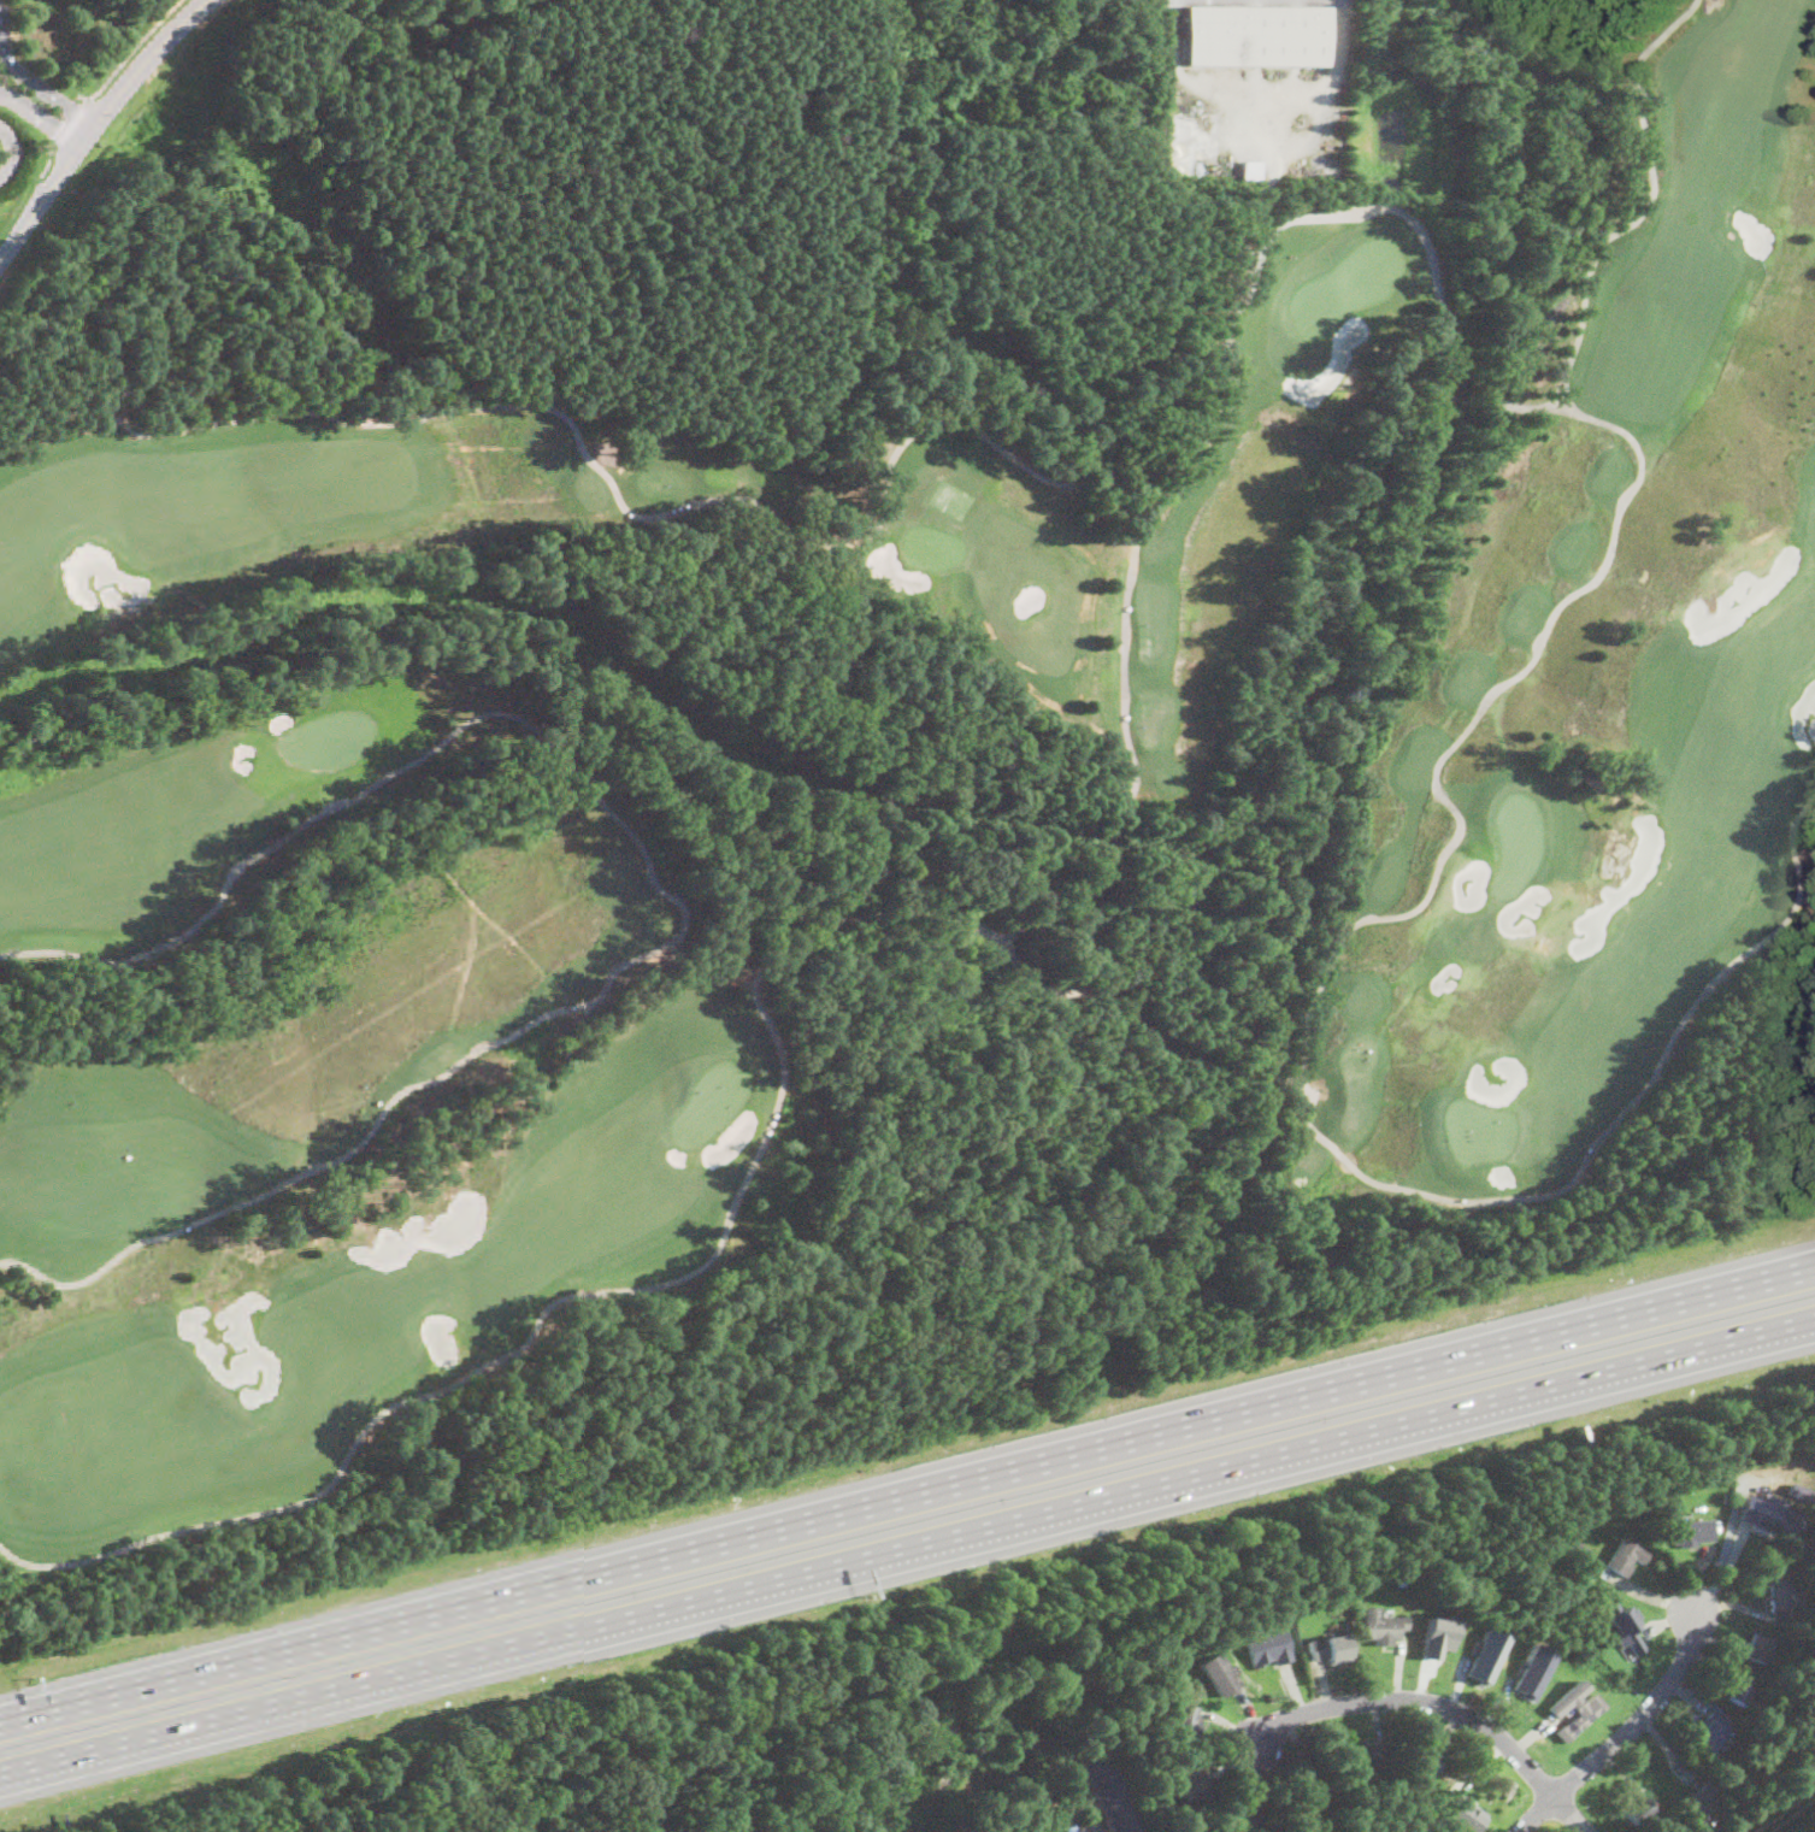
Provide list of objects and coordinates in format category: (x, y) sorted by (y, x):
parking lot: (0, 2)
building: (1256, 36)
road: (135, 49)
road: (1256, 88)
road: (37, 90)
road: (40, 122)
road: (96, 122)
road: (71, 126)
road: (10, 155)
road: (48, 163)
building: (1251, 169)
road: (1479, 383)
road: (1224, 384)
road: (1521, 405)
road: (630, 511)
park: (882, 811)
road: (1431, 886)
road: (667, 894)
road: (1061, 905)
road: (1114, 1000)
road: (1236, 1067)
road: (1274, 1074)
road: (596, 1292)
road: (1575, 1326)
building: (1727, 1498)
building: (1769, 1516)
building: (1692, 1532)
building: (1580, 1548)
road: (909, 1551)
road: (667, 1553)
building: (1625, 1556)
building: (1402, 1571)
building: (1813, 1578)
building: (1779, 1592)
building: (1624, 1624)
building: (1381, 1626)
building: (1437, 1636)
building: (1268, 1647)
building: (1330, 1648)
building: (1756, 1649)
building: (1486, 1655)
building: (1532, 1669)
building: (1218, 1674)
building: (1737, 1686)
building: (1772, 1698)
road: (1440, 1706)
building: (1573, 1708)
building: (1186, 1721)
road: (1630, 1731)
building: (1709, 1731)
building: (1365, 1761)
building: (1427, 1763)
building: (1191, 1781)
building: (1109, 1796)
building: (1702, 1798)
building: (1303, 1801)
building: (1637, 1813)
building: (1463, 1814)
building: (1243, 1818)
building: (1289, 1830)

